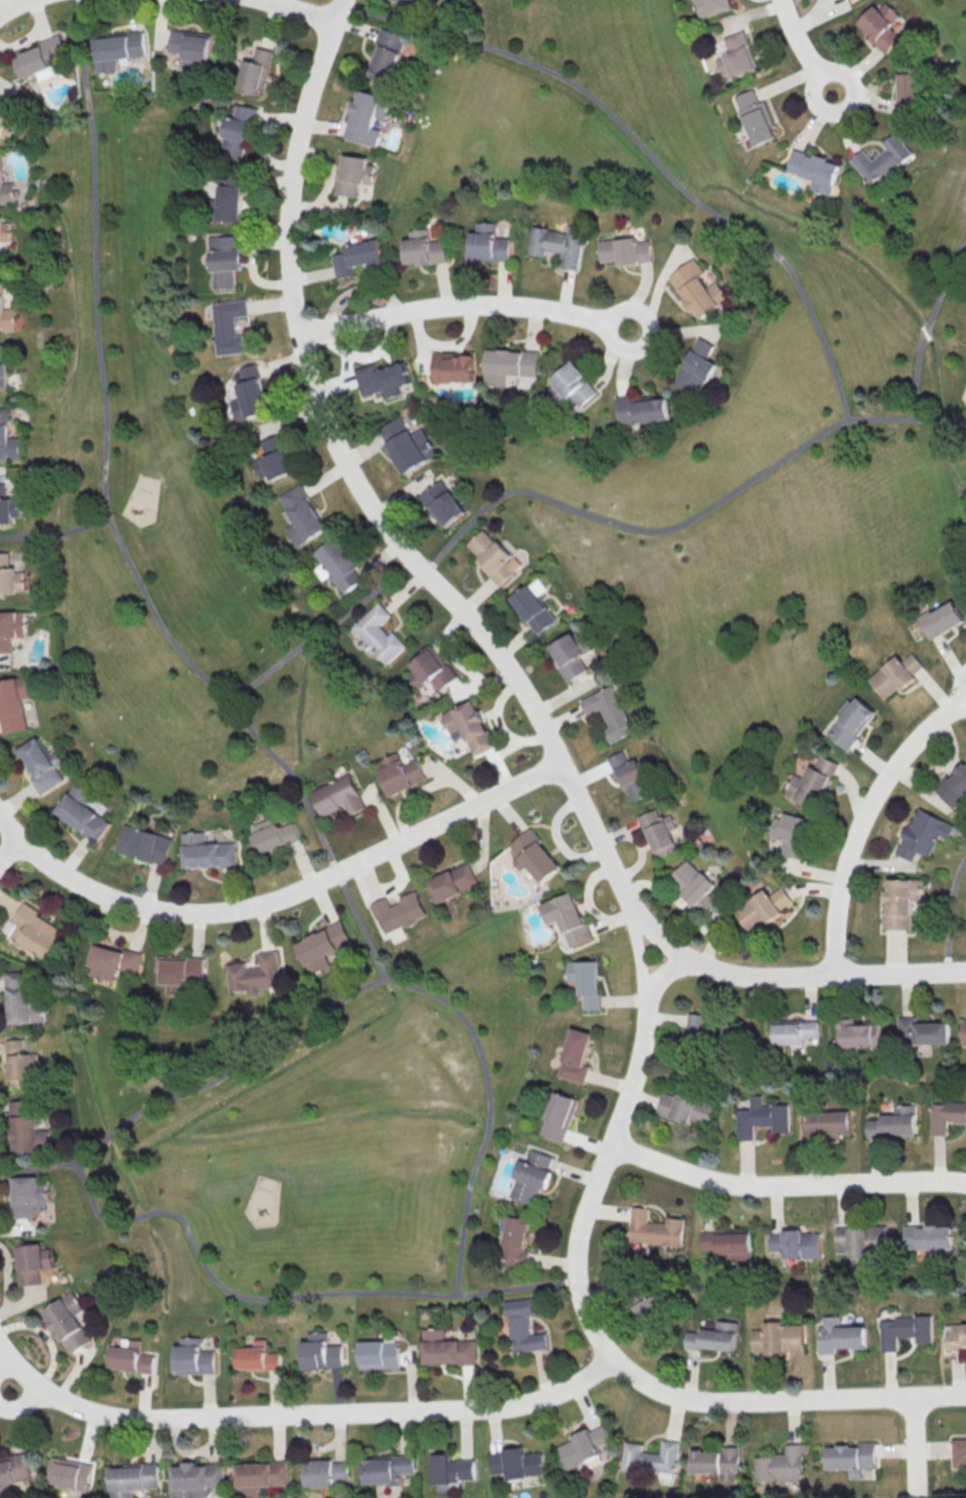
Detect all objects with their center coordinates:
building: (412, 3)
road: (11, 5)
building: (712, 7)
road: (301, 9)
building: (881, 25)
building: (191, 48)
road: (801, 48)
building: (117, 49)
building: (386, 56)
building: (737, 56)
building: (41, 58)
building: (255, 72)
building: (910, 89)
building: (366, 117)
building: (756, 117)
building: (7, 125)
building: (238, 133)
road: (647, 153)
building: (882, 159)
building: (816, 170)
building: (352, 174)
building: (6, 188)
building: (230, 203)
building: (5, 231)
building: (487, 243)
building: (558, 245)
building: (423, 248)
building: (625, 250)
building: (357, 257)
building: (225, 260)
building: (698, 289)
road: (462, 304)
building: (6, 313)
road: (927, 325)
building: (229, 326)
building: (4, 366)
building: (510, 367)
building: (696, 367)
building: (452, 369)
building: (381, 381)
building: (570, 385)
building: (250, 394)
building: (640, 409)
building: (8, 439)
building: (406, 444)
building: (274, 459)
building: (441, 503)
building: (8, 506)
road: (573, 510)
building: (302, 515)
road: (114, 527)
road: (55, 532)
building: (492, 557)
building: (337, 565)
building: (9, 577)
building: (531, 609)
building: (942, 619)
road: (471, 623)
building: (11, 628)
building: (379, 634)
building: (568, 654)
park: (187, 655)
building: (430, 670)
building: (896, 674)
building: (13, 703)
building: (608, 712)
building: (851, 721)
building: (468, 726)
building: (42, 765)
building: (399, 773)
building: (629, 775)
building: (811, 782)
building: (953, 787)
building: (339, 796)
building: (81, 813)
road: (863, 822)
building: (659, 832)
building: (791, 833)
building: (923, 834)
building: (272, 835)
building: (144, 844)
road: (9, 850)
building: (207, 851)
building: (534, 856)
building: (453, 882)
building: (694, 885)
road: (279, 897)
building: (901, 902)
building: (762, 907)
park: (949, 910)
building: (399, 912)
road: (948, 913)
building: (567, 918)
building: (35, 932)
building: (323, 946)
building: (113, 961)
building: (180, 972)
building: (256, 973)
road: (663, 973)
building: (586, 981)
road: (356, 990)
building: (23, 999)
building: (794, 1031)
building: (921, 1031)
building: (963, 1032)
building: (858, 1034)
building: (575, 1056)
building: (23, 1065)
building: (685, 1108)
building: (946, 1115)
building: (559, 1116)
building: (761, 1117)
building: (827, 1122)
building: (894, 1123)
building: (27, 1128)
building: (532, 1177)
road: (784, 1185)
building: (29, 1196)
building: (654, 1228)
building: (929, 1239)
building: (517, 1241)
building: (861, 1243)
building: (729, 1244)
building: (796, 1244)
building: (32, 1262)
road: (284, 1296)
building: (649, 1309)
road: (586, 1312)
building: (68, 1321)
building: (523, 1326)
building: (904, 1330)
building: (839, 1336)
building: (955, 1336)
building: (714, 1337)
building: (777, 1338)
building: (447, 1349)
building: (322, 1352)
building: (380, 1355)
building: (130, 1357)
building: (194, 1357)
building: (257, 1357)
road: (5, 1363)
road: (24, 1406)
road: (299, 1413)
road: (914, 1445)
building: (582, 1446)
building: (958, 1453)
building: (650, 1457)
building: (851, 1458)
building: (717, 1462)
building: (517, 1463)
building: (781, 1465)
building: (386, 1468)
building: (15, 1469)
building: (450, 1471)
building: (70, 1473)
building: (325, 1473)
building: (260, 1477)
building: (133, 1478)
building: (196, 1479)

